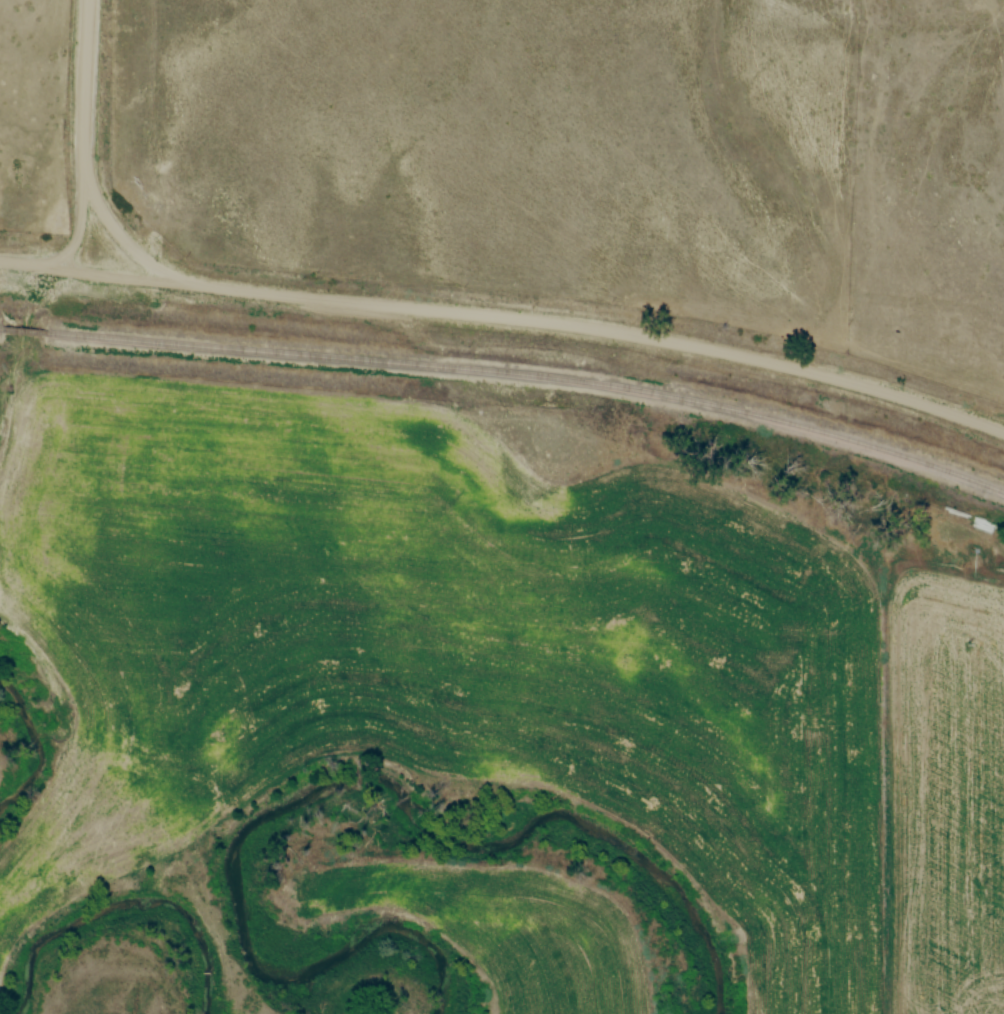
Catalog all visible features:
road: (74, 164)
road: (507, 318)
railway: (0, 329)
railway: (24, 332)
railway: (532, 378)

